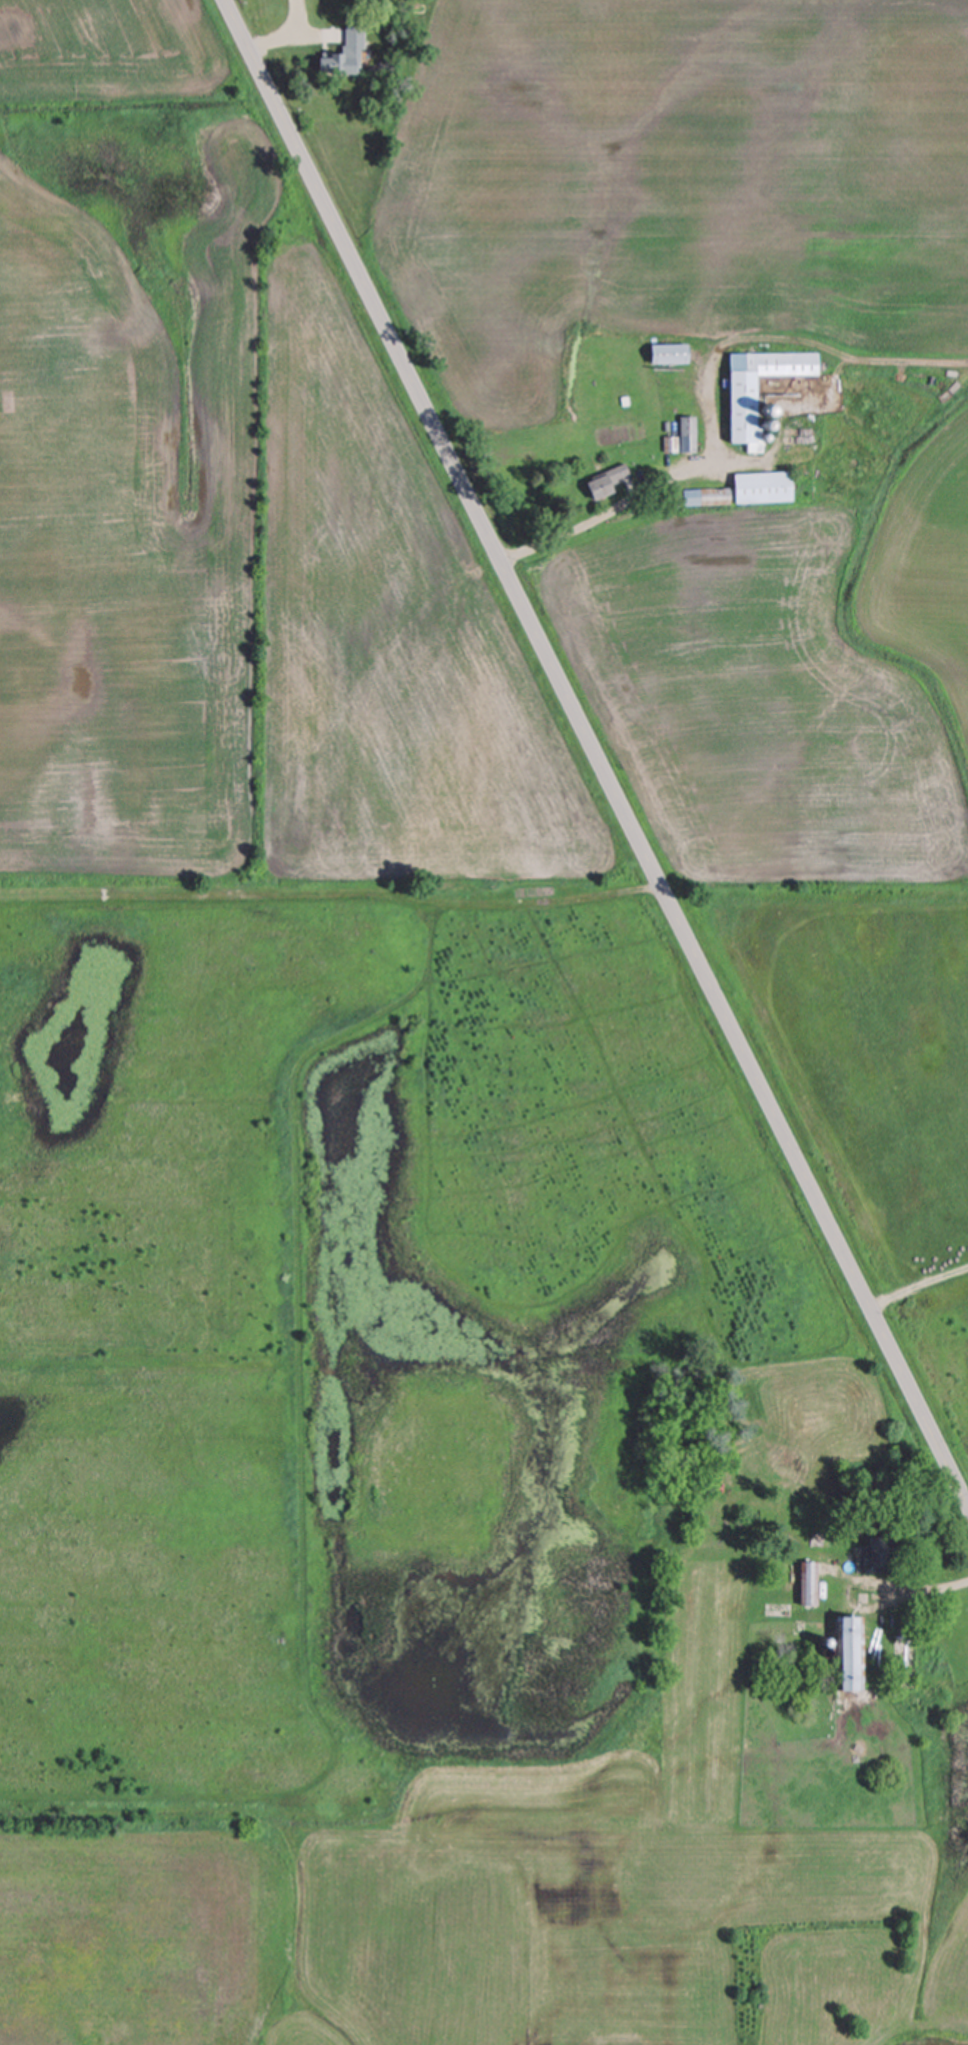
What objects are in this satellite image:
building: (340, 58)
building: (665, 354)
building: (738, 391)
building: (685, 435)
building: (605, 481)
building: (760, 489)
building: (704, 498)
road: (607, 510)
road: (593, 759)
road: (914, 1282)
road: (929, 1589)
building: (839, 1652)

